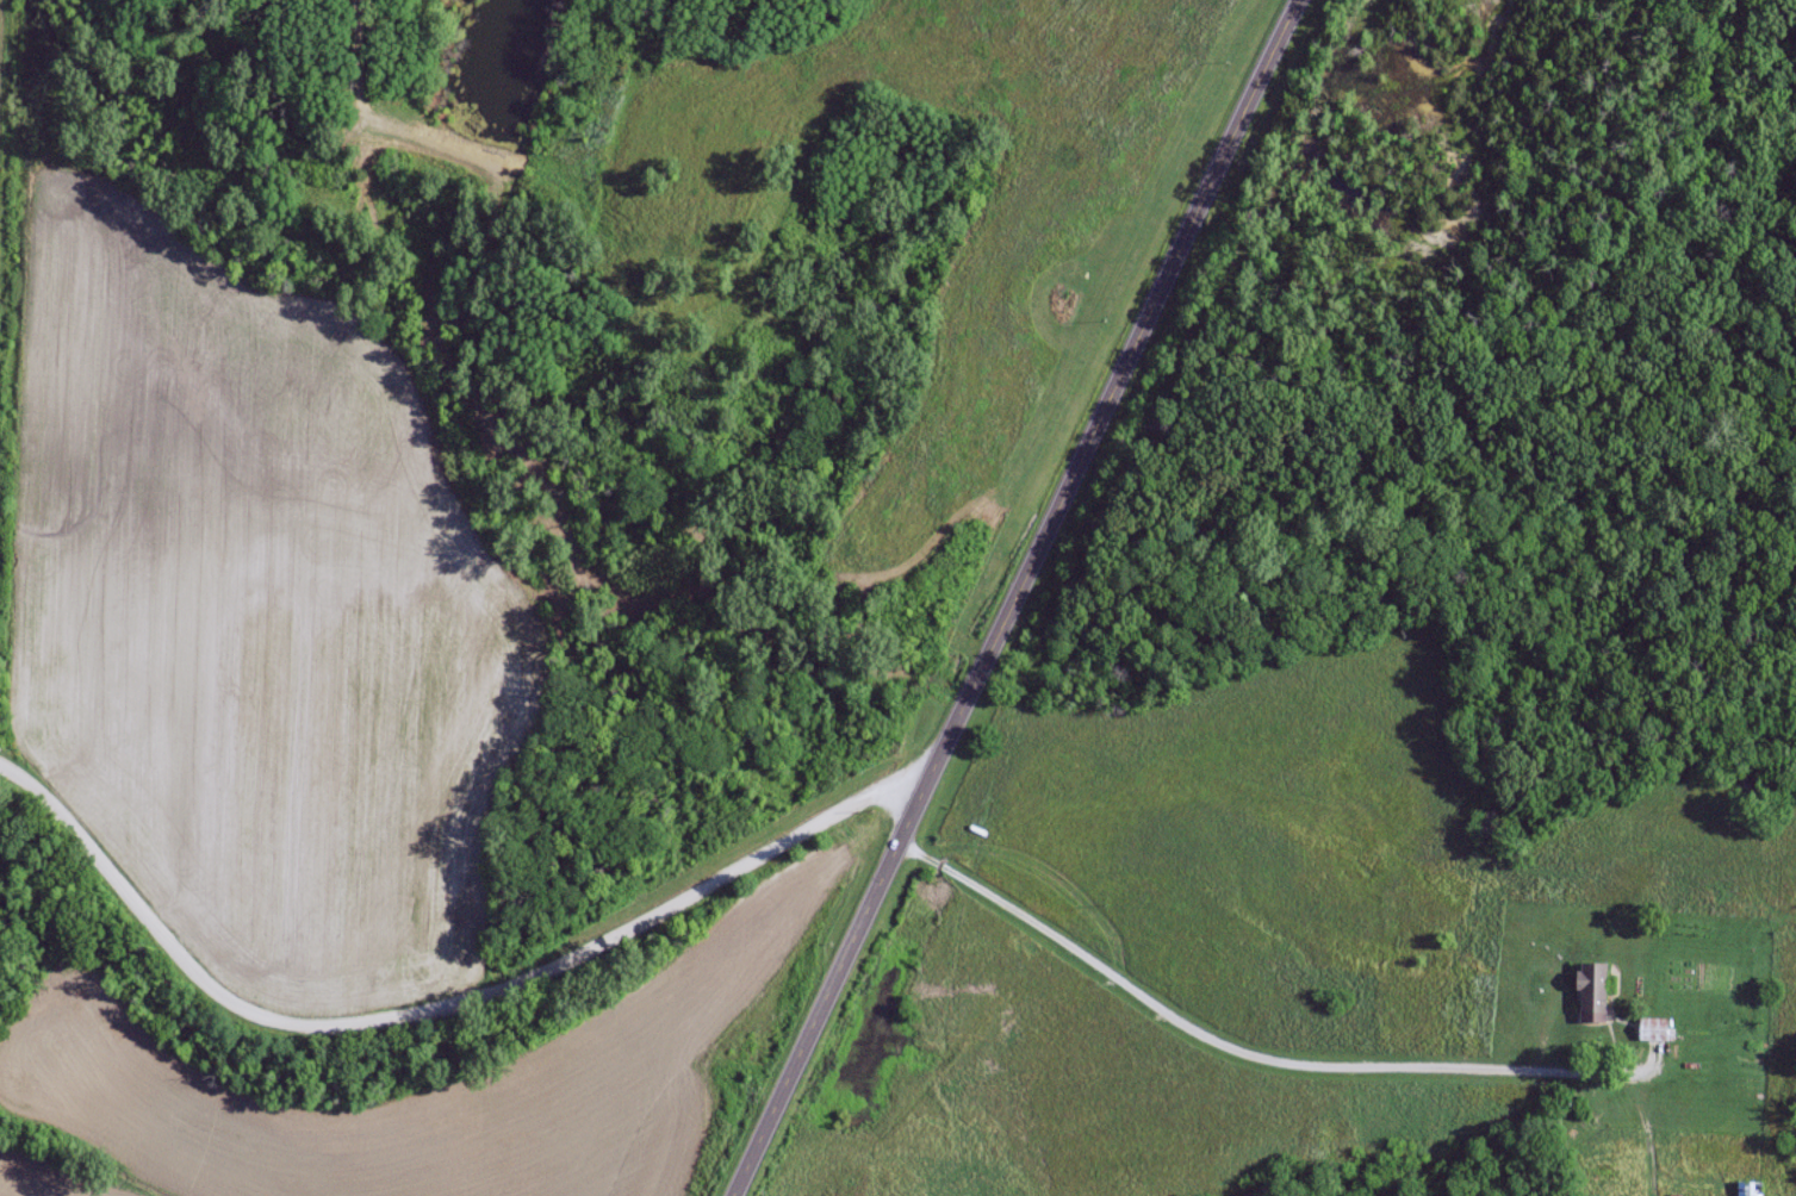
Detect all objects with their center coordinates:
road: (1021, 598)
building: (1587, 995)
road: (441, 1009)
building: (1652, 1030)
road: (1220, 1041)
building: (1748, 1189)

